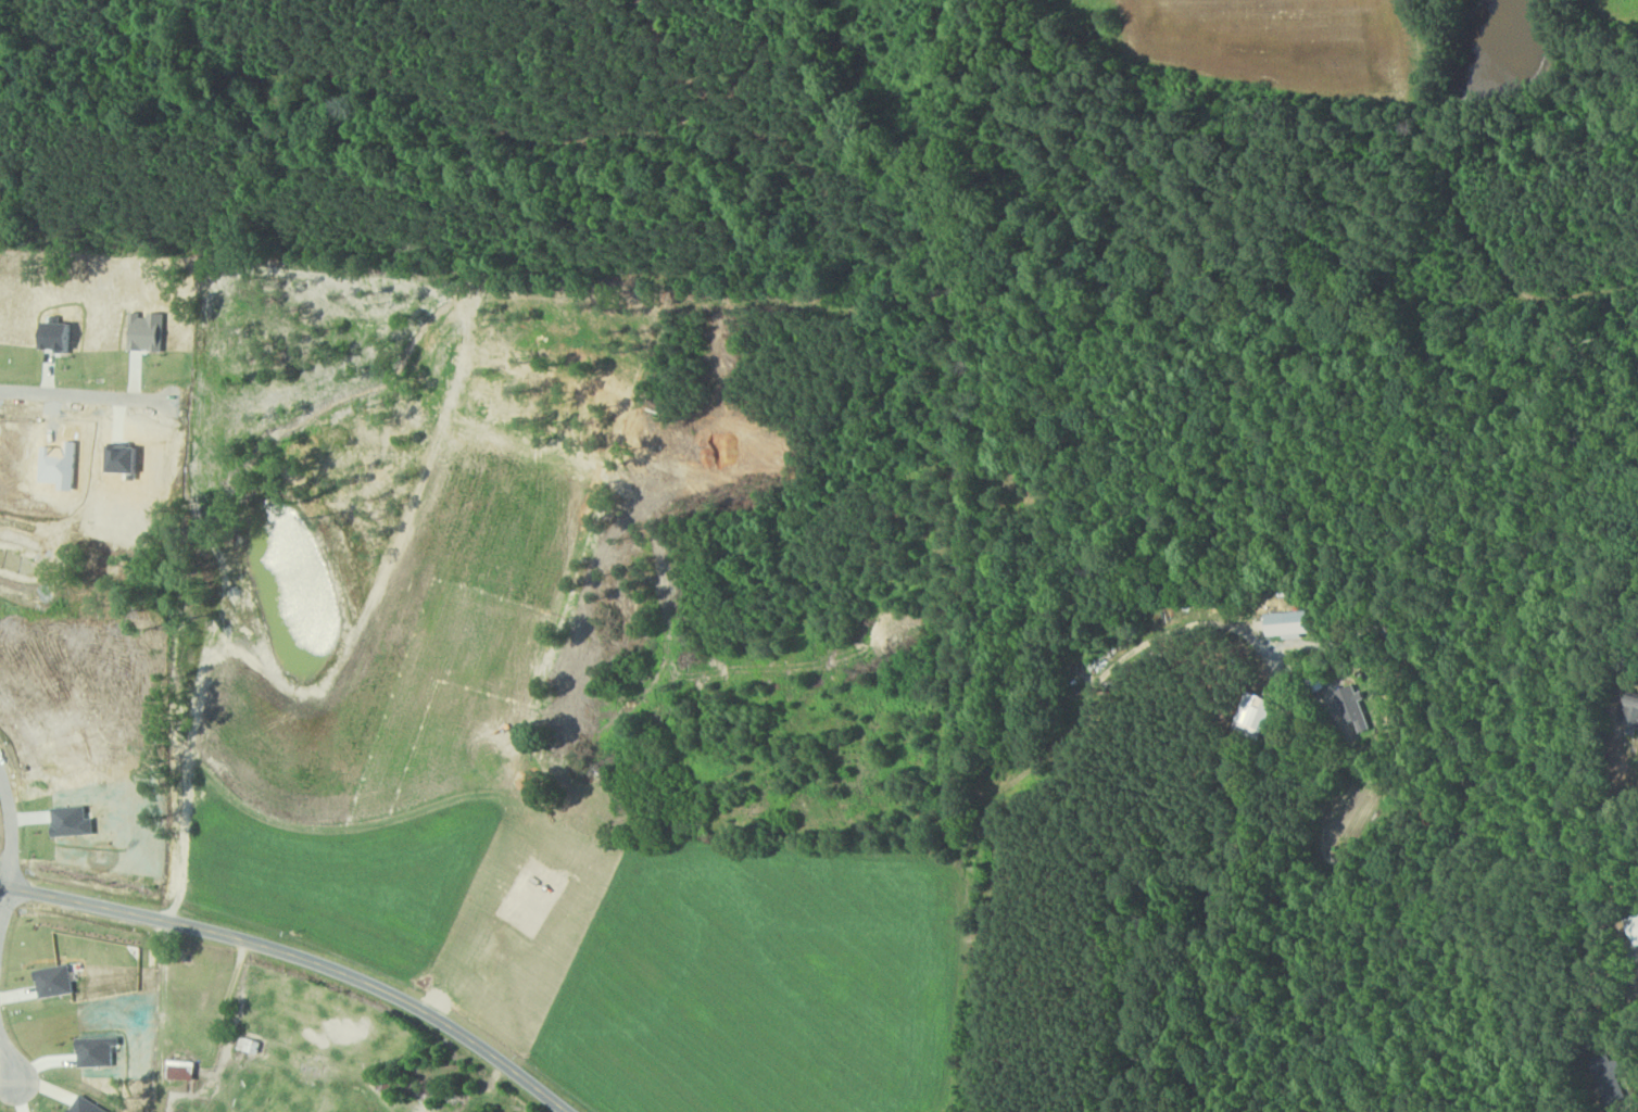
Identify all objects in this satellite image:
road: (84, 395)
building: (1291, 622)
building: (1352, 706)
building: (1258, 711)
road: (12, 827)
road: (1463, 845)
road: (3, 884)
road: (3, 903)
building: (1635, 924)
road: (303, 957)
building: (250, 1044)
road: (10, 1058)
building: (182, 1070)

